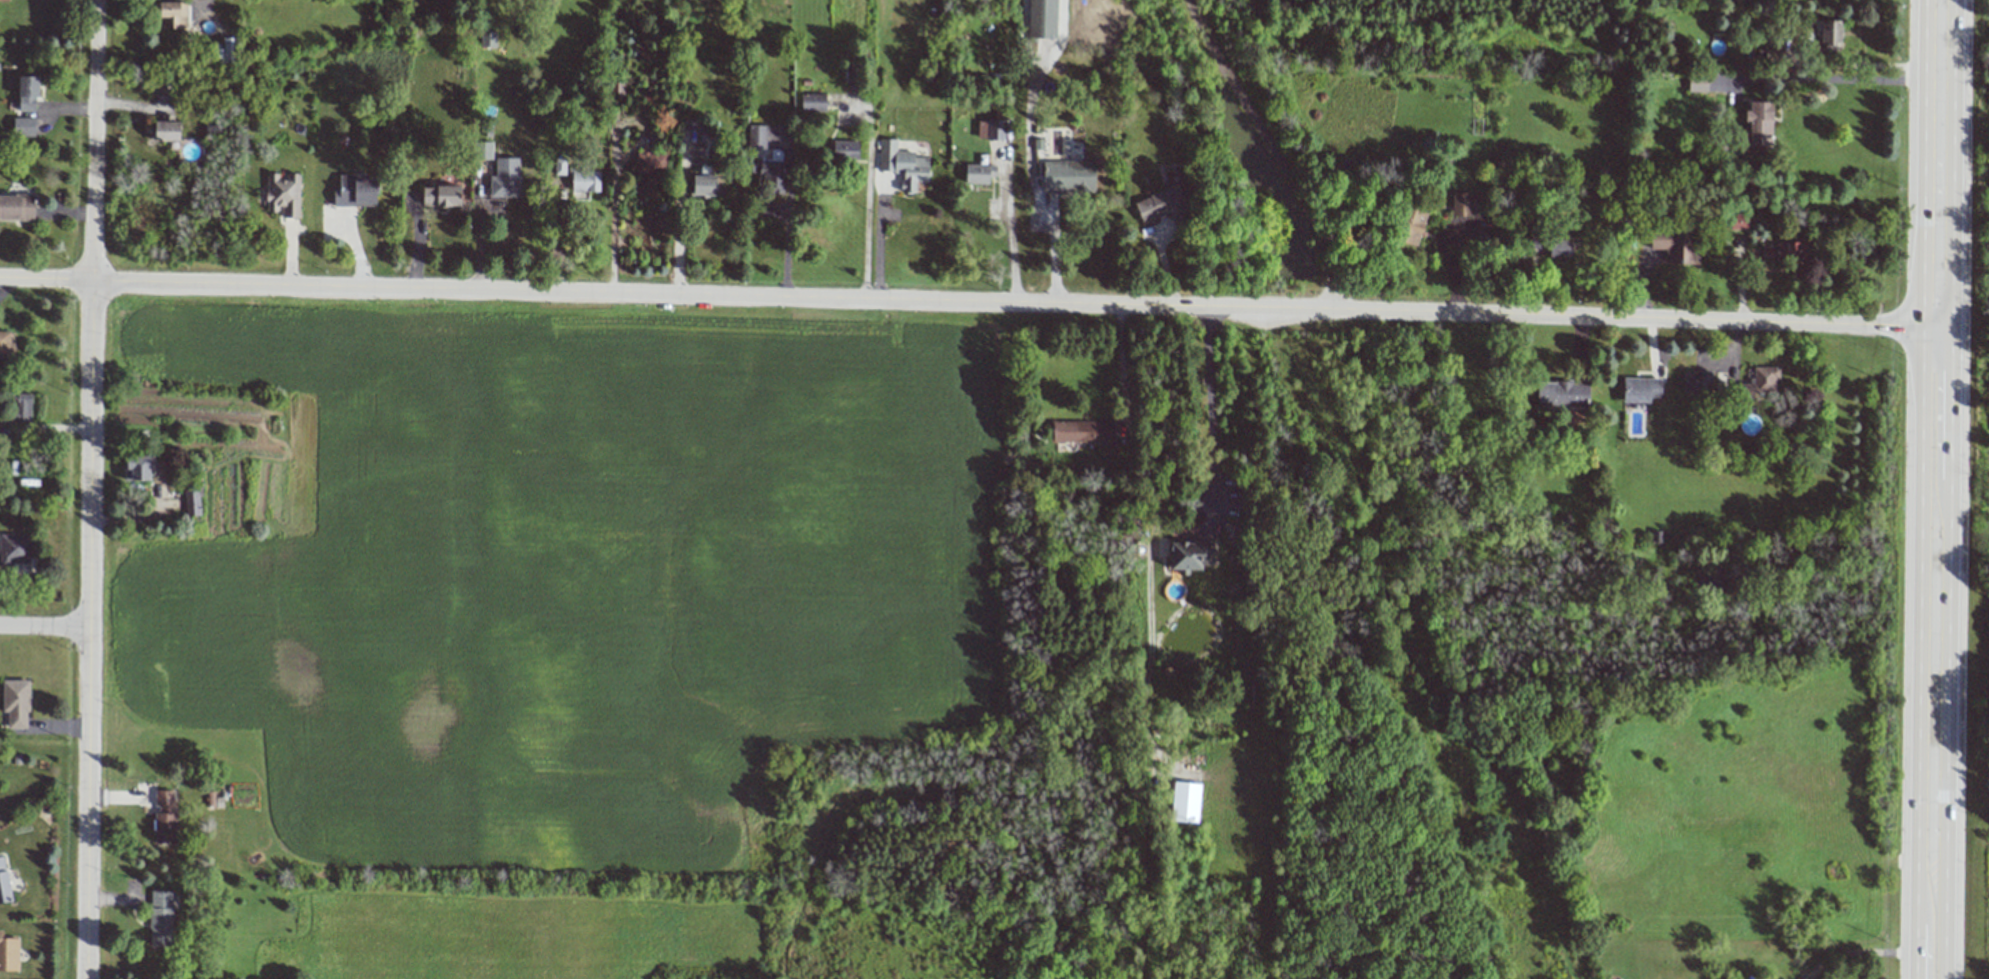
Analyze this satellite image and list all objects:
building: (4, 0)
building: (173, 14)
building: (1041, 19)
building: (1829, 34)
building: (228, 50)
road: (1832, 78)
building: (1697, 86)
building: (162, 89)
building: (27, 93)
building: (812, 103)
building: (1758, 123)
building: (23, 127)
building: (166, 129)
building: (990, 129)
building: (756, 136)
building: (844, 149)
building: (481, 150)
road: (1272, 152)
building: (651, 162)
building: (902, 164)
road: (1938, 164)
building: (559, 166)
building: (978, 173)
building: (769, 174)
building: (1068, 177)
building: (505, 178)
building: (584, 180)
road: (1031, 185)
building: (705, 186)
building: (355, 192)
building: (283, 195)
building: (440, 196)
road: (867, 200)
building: (1461, 204)
building: (1162, 205)
building: (16, 207)
road: (786, 219)
building: (1738, 221)
building: (1411, 226)
road: (1007, 229)
road: (556, 237)
building: (1534, 239)
road: (877, 242)
building: (1674, 245)
building: (1559, 247)
building: (1784, 250)
road: (968, 303)
building: (6, 344)
road: (1119, 368)
building: (1697, 381)
building: (1759, 382)
building: (1640, 389)
building: (1561, 394)
road: (1209, 399)
building: (21, 408)
building: (1082, 431)
building: (138, 467)
road: (90, 489)
building: (191, 501)
park: (1962, 519)
building: (14, 549)
building: (1189, 555)
road: (44, 625)
road: (1933, 653)
building: (15, 703)
building: (1185, 802)
building: (164, 817)
building: (4, 883)
building: (161, 917)
building: (8, 954)

